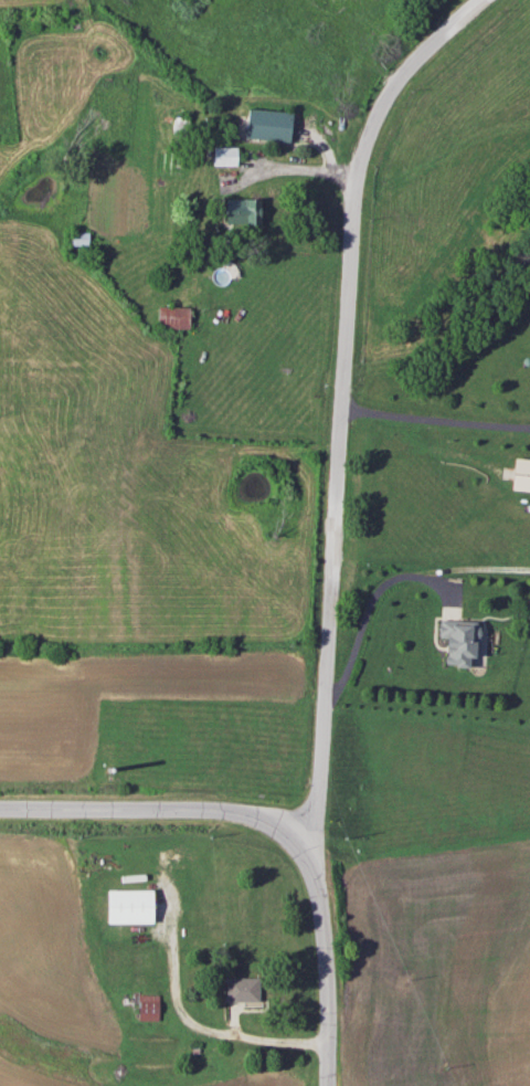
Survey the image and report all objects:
building: (267, 124)
building: (223, 155)
building: (242, 210)
building: (172, 316)
road: (344, 401)
road: (436, 421)
building: (520, 473)
road: (368, 601)
building: (457, 640)
road: (277, 823)
building: (128, 905)
building: (241, 988)
road: (210, 1029)

